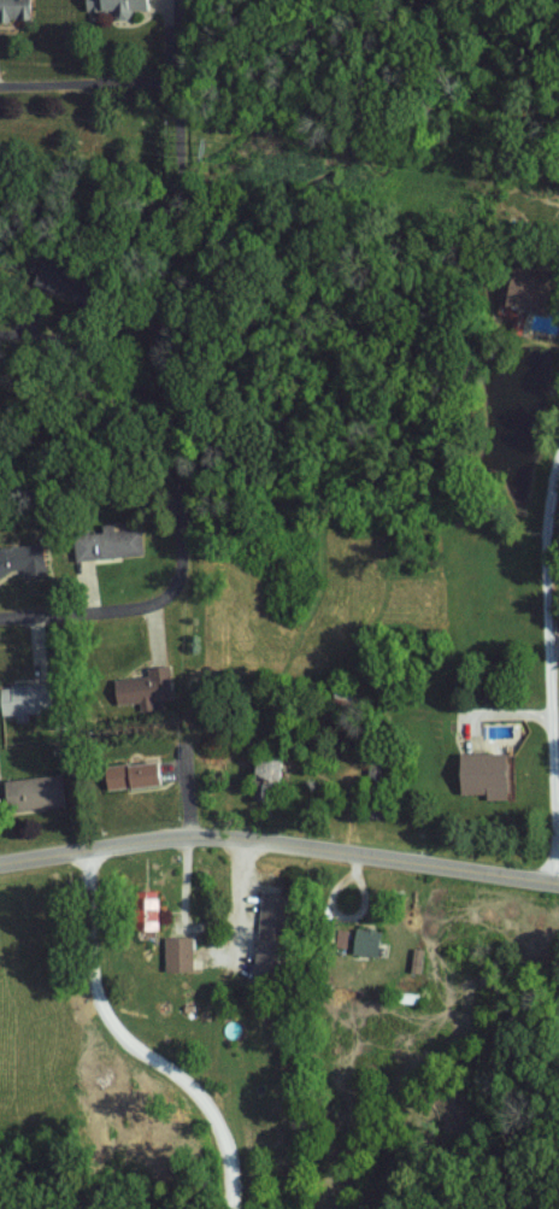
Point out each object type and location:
building: (118, 6)
building: (16, 8)
building: (528, 287)
road: (87, 344)
road: (175, 350)
building: (107, 542)
building: (24, 559)
road: (553, 640)
building: (143, 688)
building: (27, 698)
building: (270, 768)
building: (134, 774)
building: (486, 774)
building: (35, 792)
road: (278, 843)
building: (148, 910)
building: (271, 934)
building: (360, 940)
building: (178, 953)
road: (128, 1046)

